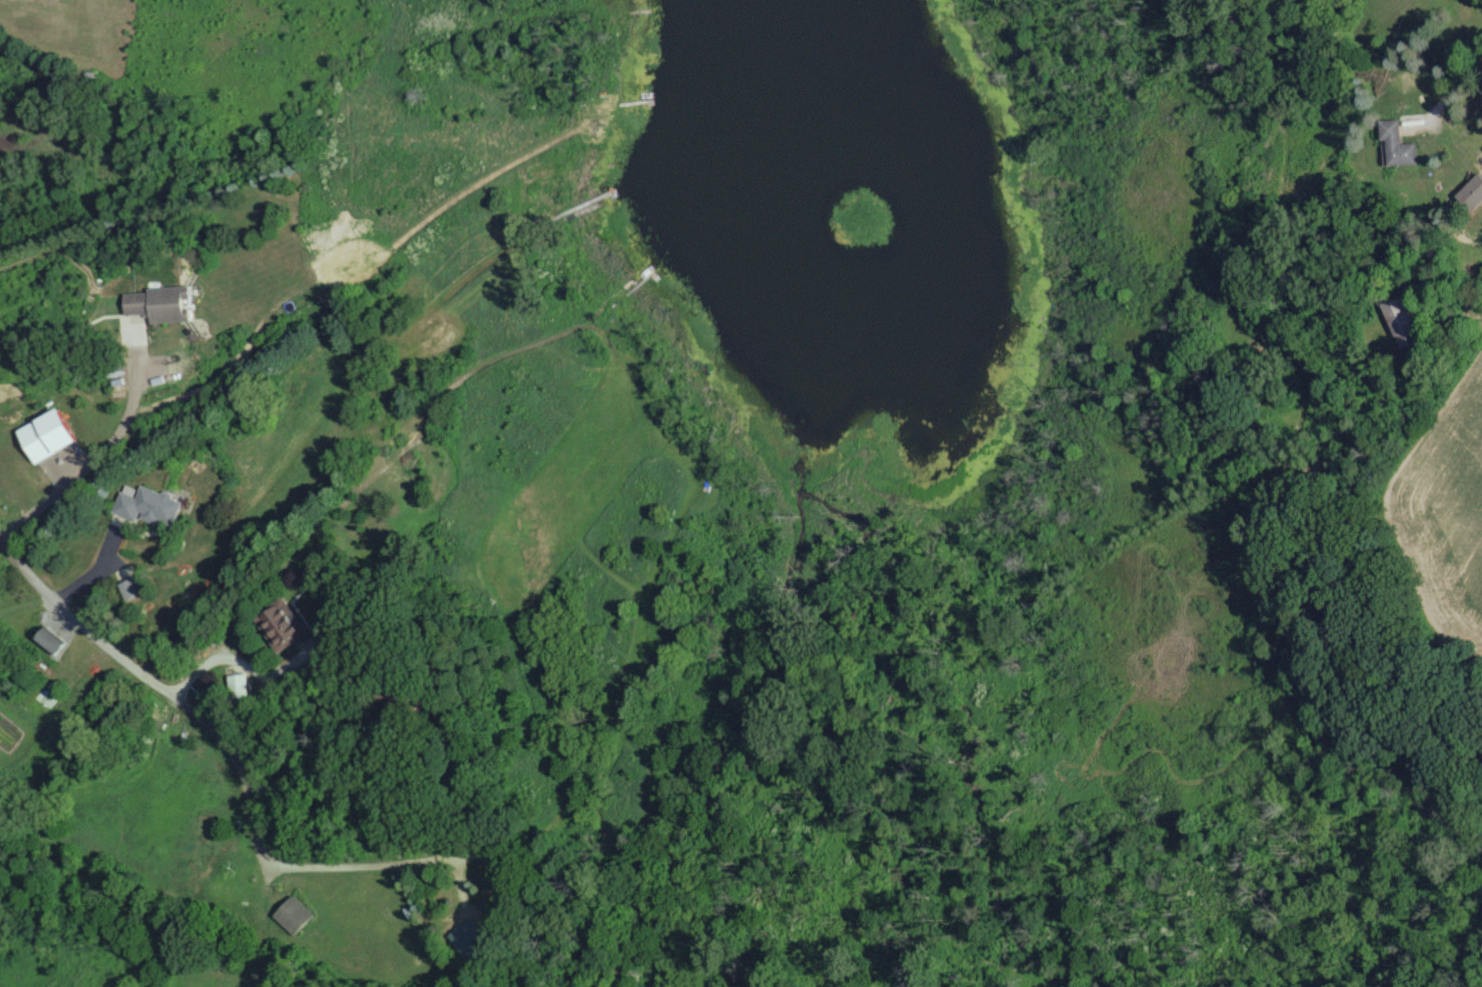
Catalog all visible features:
road: (1452, 86)
building: (1399, 144)
building: (1472, 191)
road: (358, 279)
building: (162, 304)
building: (1400, 321)
road: (105, 462)
building: (151, 505)
road: (103, 578)
building: (132, 586)
building: (286, 623)
building: (51, 640)
road: (249, 670)
building: (241, 684)
building: (402, 698)
road: (232, 756)
road: (300, 762)
building: (294, 914)

